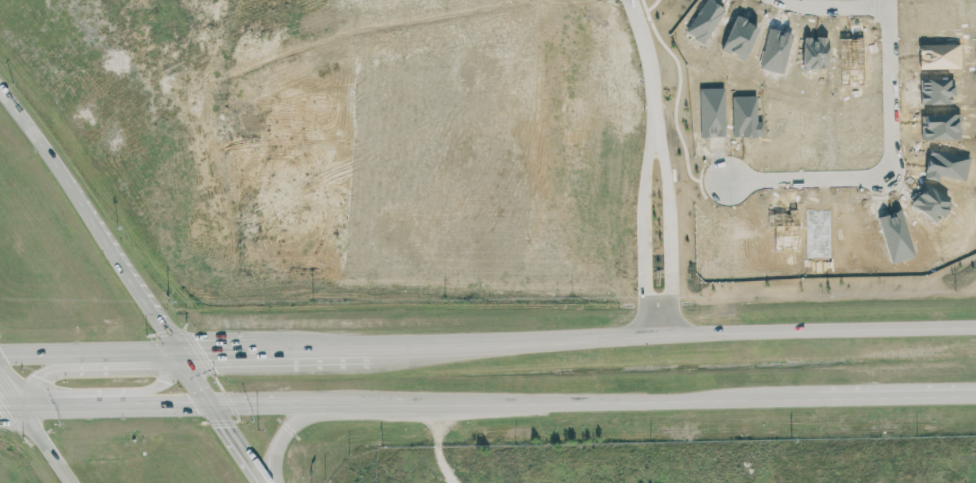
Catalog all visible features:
road: (831, 11)
road: (653, 71)
road: (659, 146)
road: (893, 166)
road: (80, 204)
road: (762, 330)
road: (171, 336)
road: (461, 346)
road: (333, 350)
road: (239, 352)
road: (126, 353)
traffic signals: (205, 353)
road: (34, 355)
traffic signals: (7, 356)
traffic signals: (38, 374)
road: (36, 375)
traffic signals: (159, 378)
road: (156, 379)
road: (10, 392)
road: (897, 396)
road: (665, 400)
road: (273, 401)
road: (170, 402)
traffic signals: (193, 402)
road: (352, 402)
road: (432, 402)
road: (502, 402)
road: (72, 405)
road: (10, 407)
road: (226, 417)
traffic signals: (232, 425)
road: (286, 432)
road: (434, 443)
road: (46, 445)

